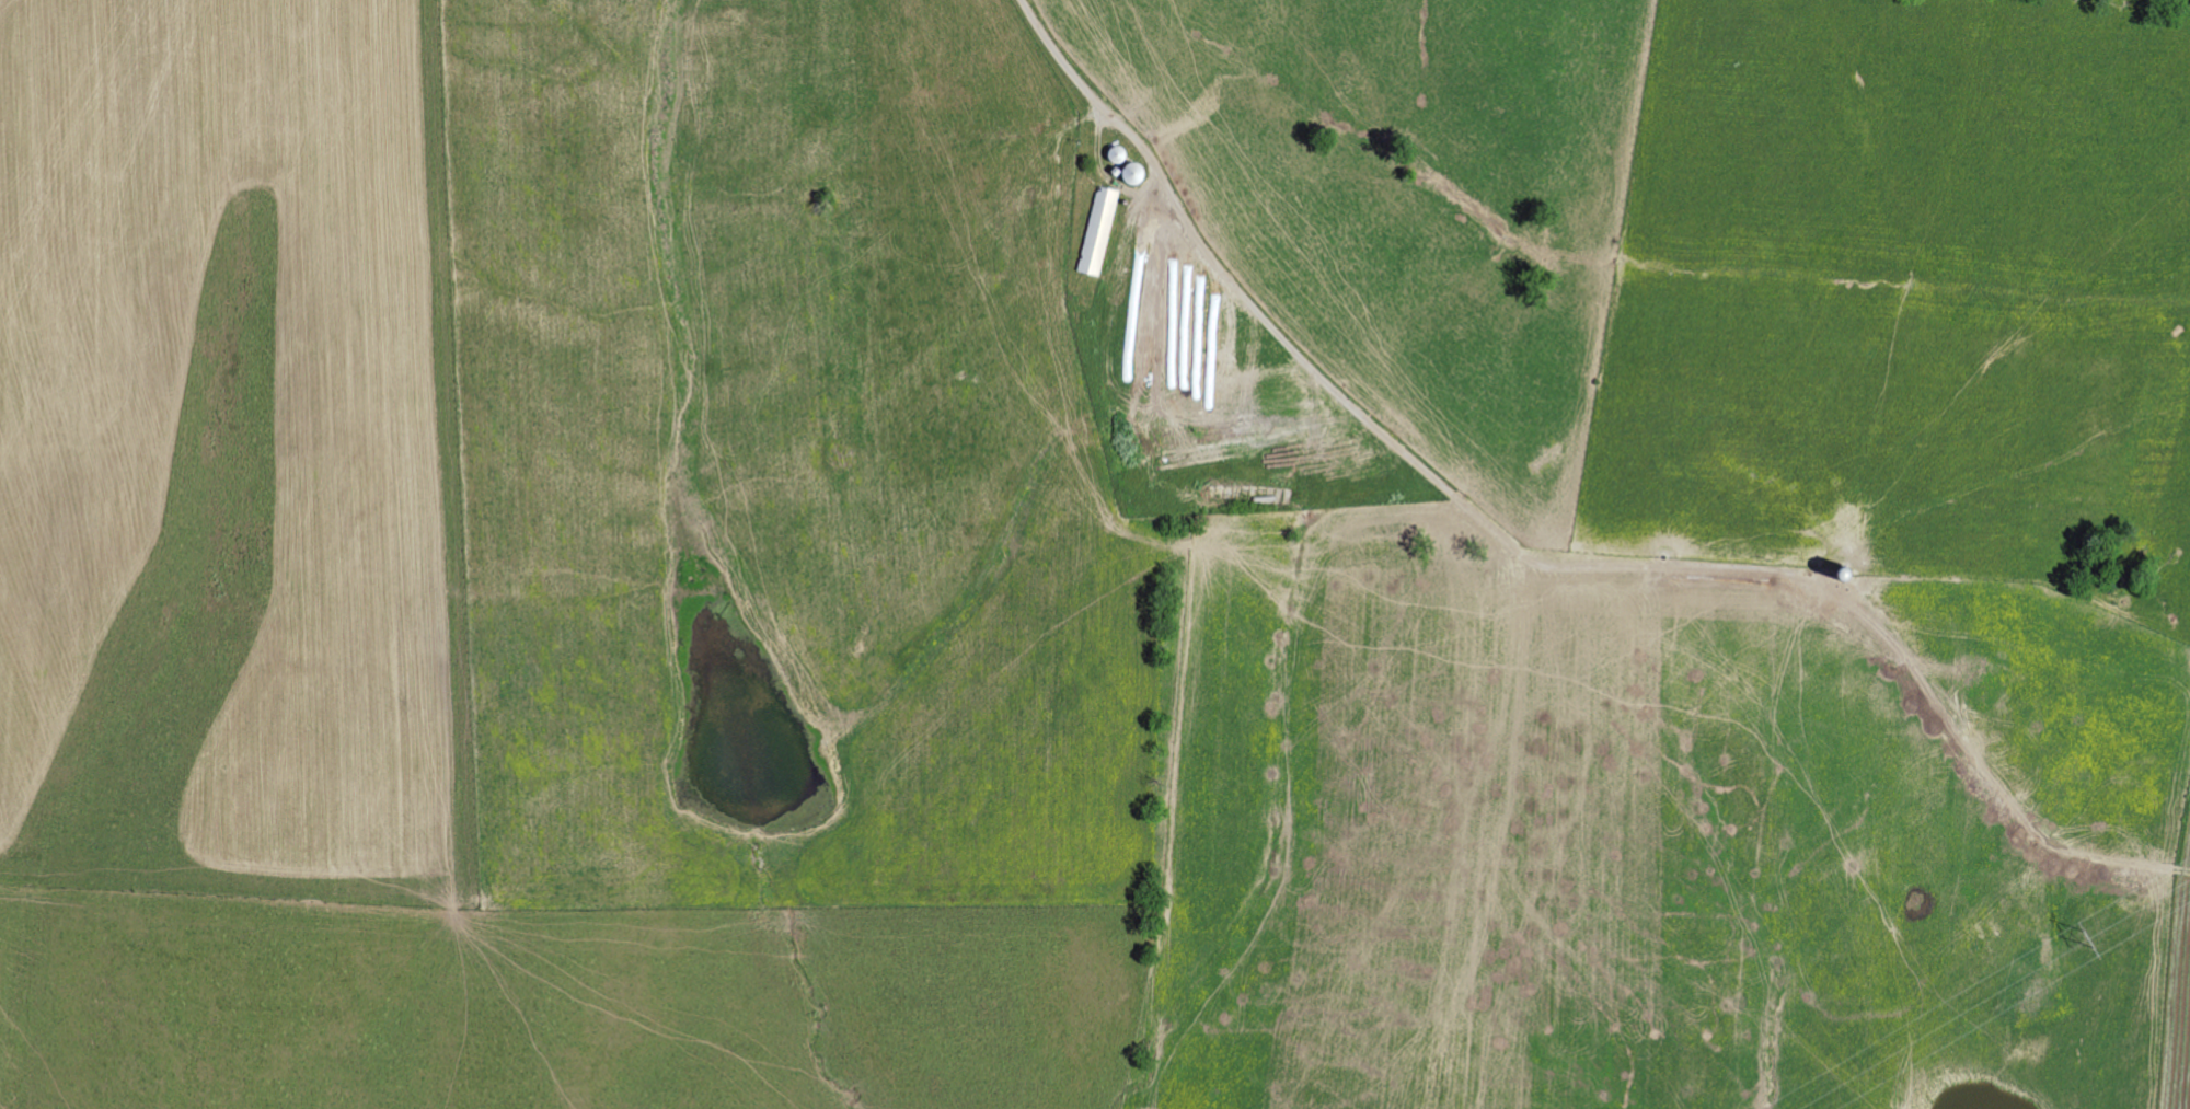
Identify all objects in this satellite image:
building: (1100, 232)
road: (1212, 267)
road: (1622, 567)
power tower: (2089, 938)

